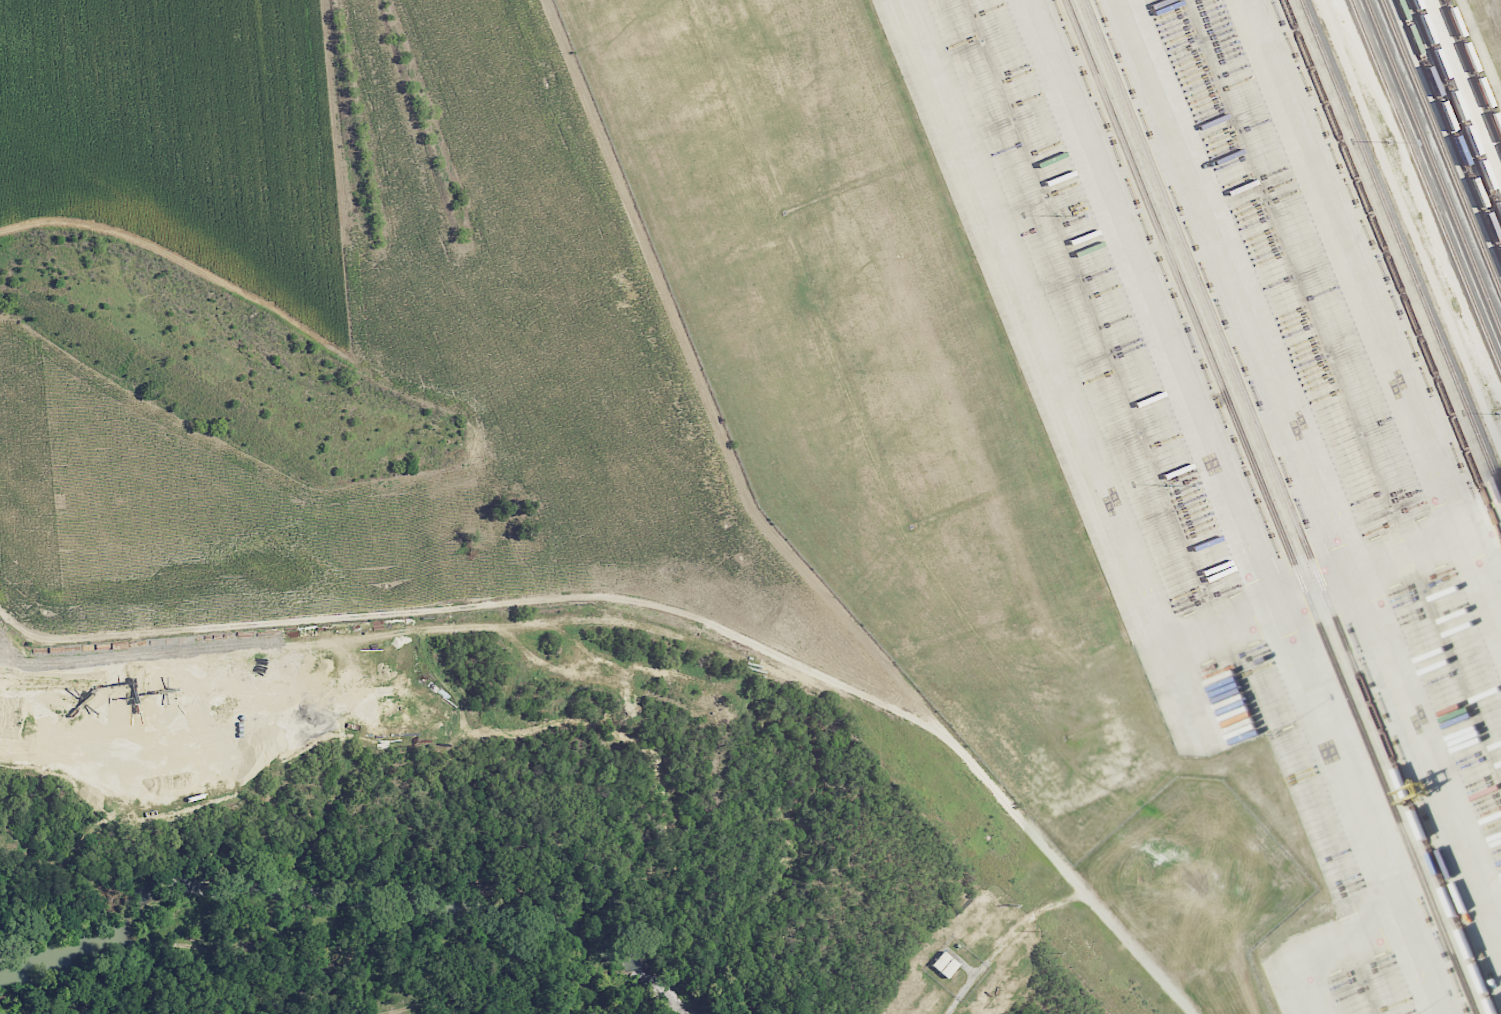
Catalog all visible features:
railway: (1473, 66)
railway: (1458, 105)
railway: (1448, 128)
railway: (1441, 146)
railway: (1433, 165)
railway: (1426, 182)
railway: (1392, 267)
railway: (1382, 292)
railway: (1371, 318)
road: (17, 341)
railway: (1272, 507)
railway: (1290, 507)
road: (18, 628)
road: (665, 631)
road: (441, 700)
river: (255, 887)
road: (1031, 918)
building: (942, 964)
river: (599, 990)

